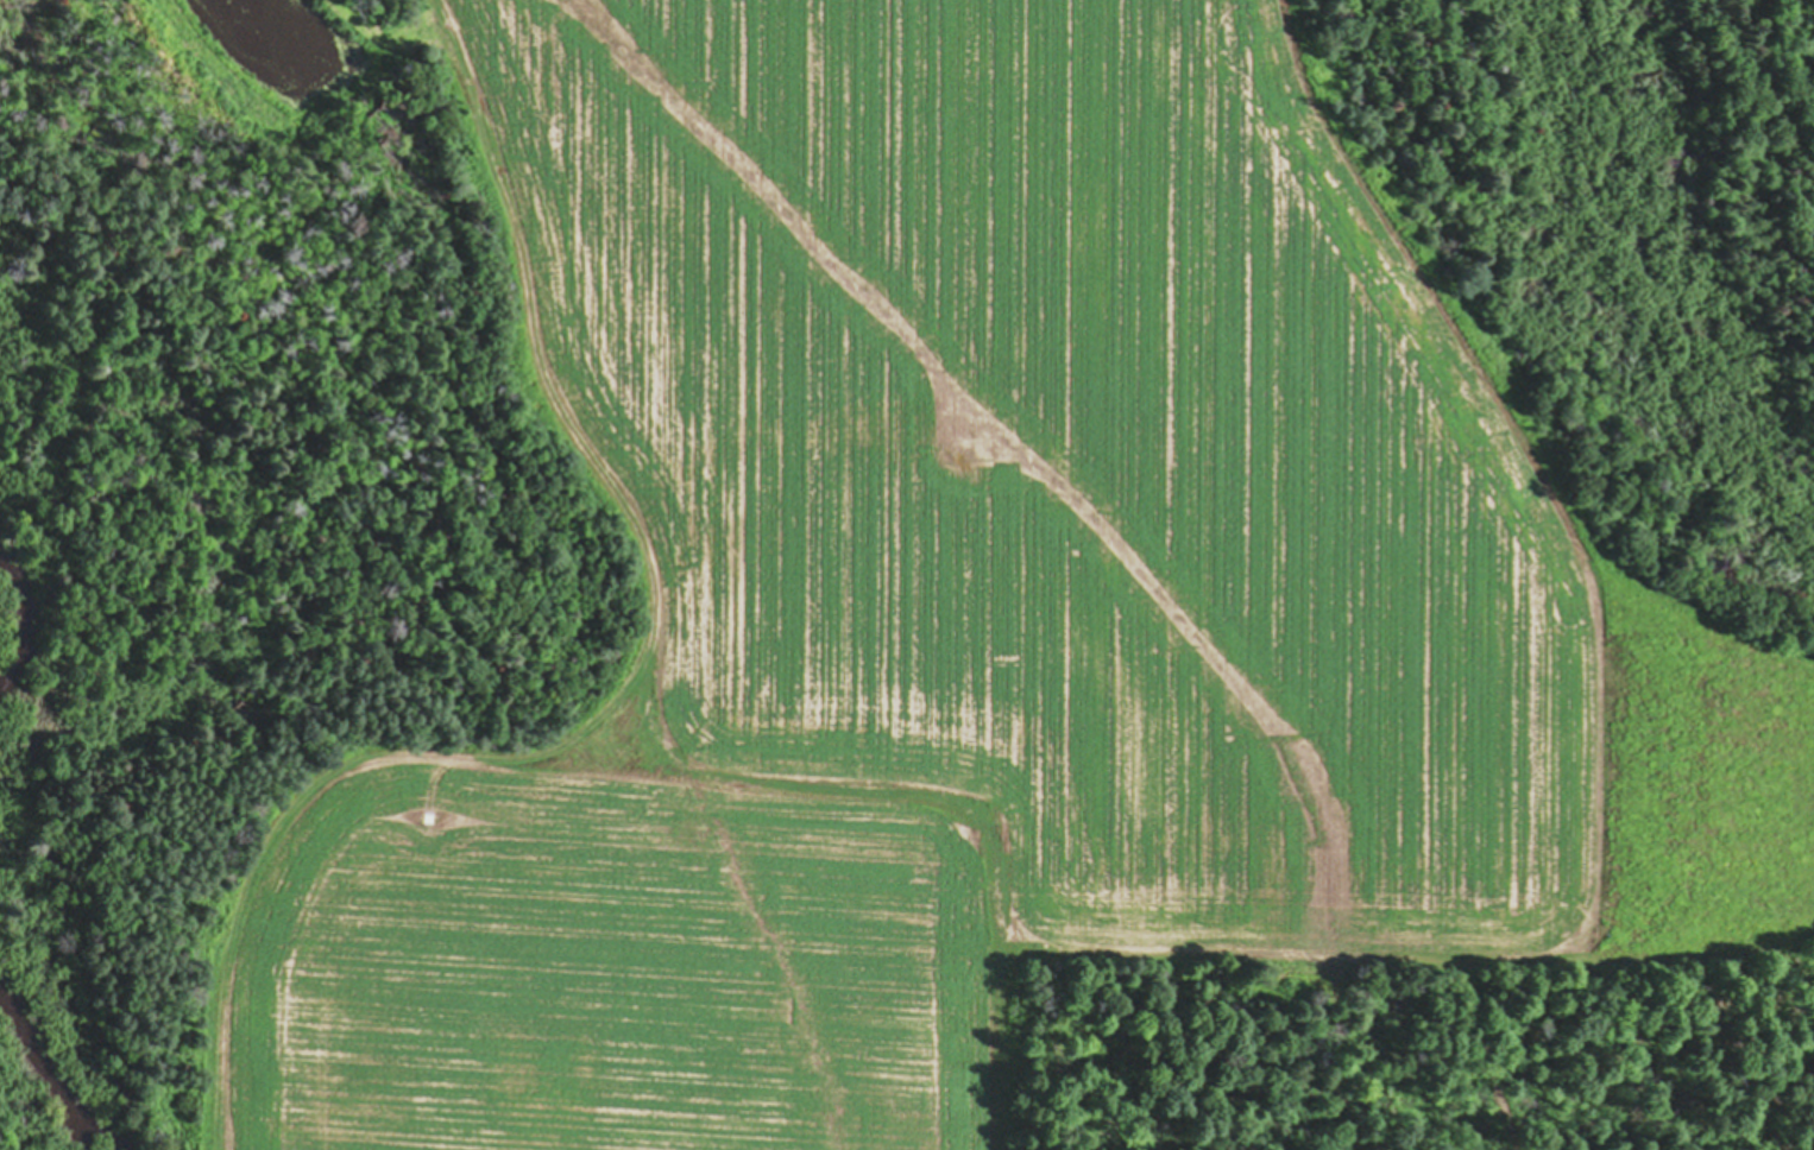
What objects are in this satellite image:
river: (0, 631)
river: (56, 1055)

